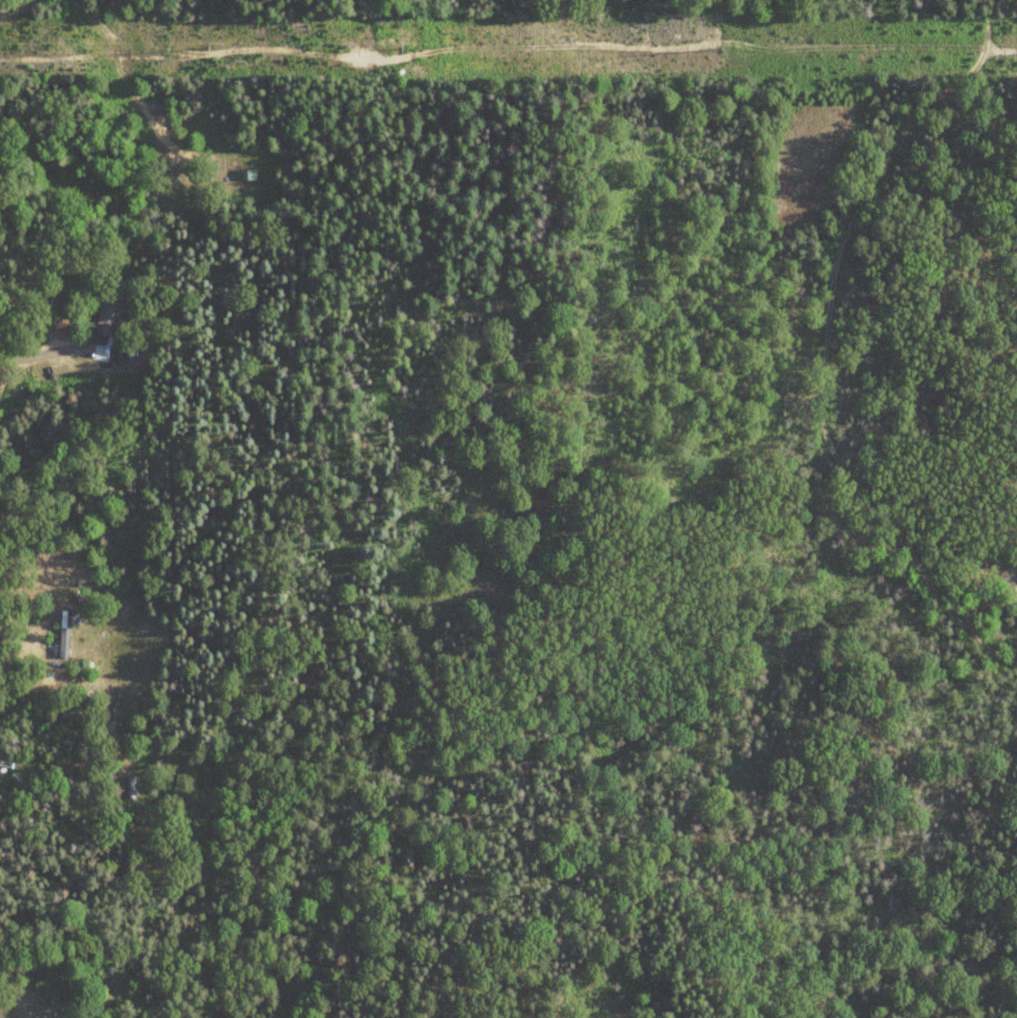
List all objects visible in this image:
building: (64, 633)

